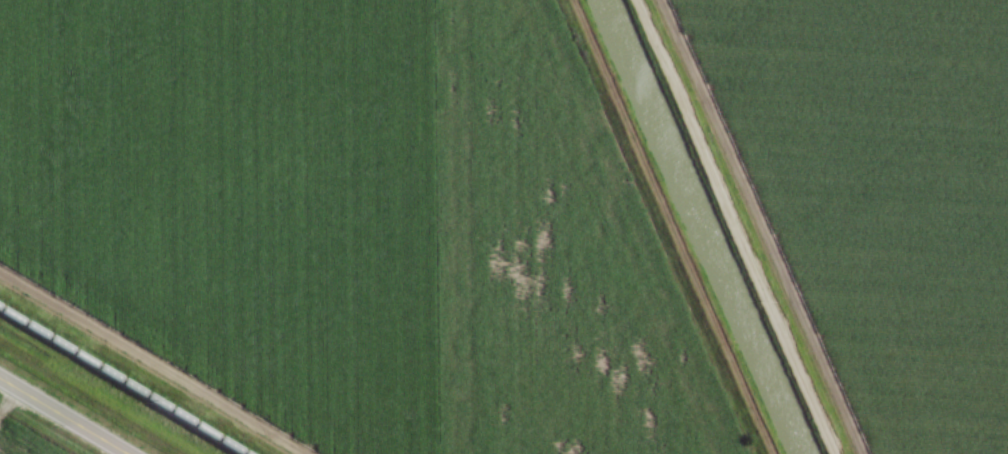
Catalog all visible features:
road: (736, 226)
railway: (117, 383)
road: (61, 417)

